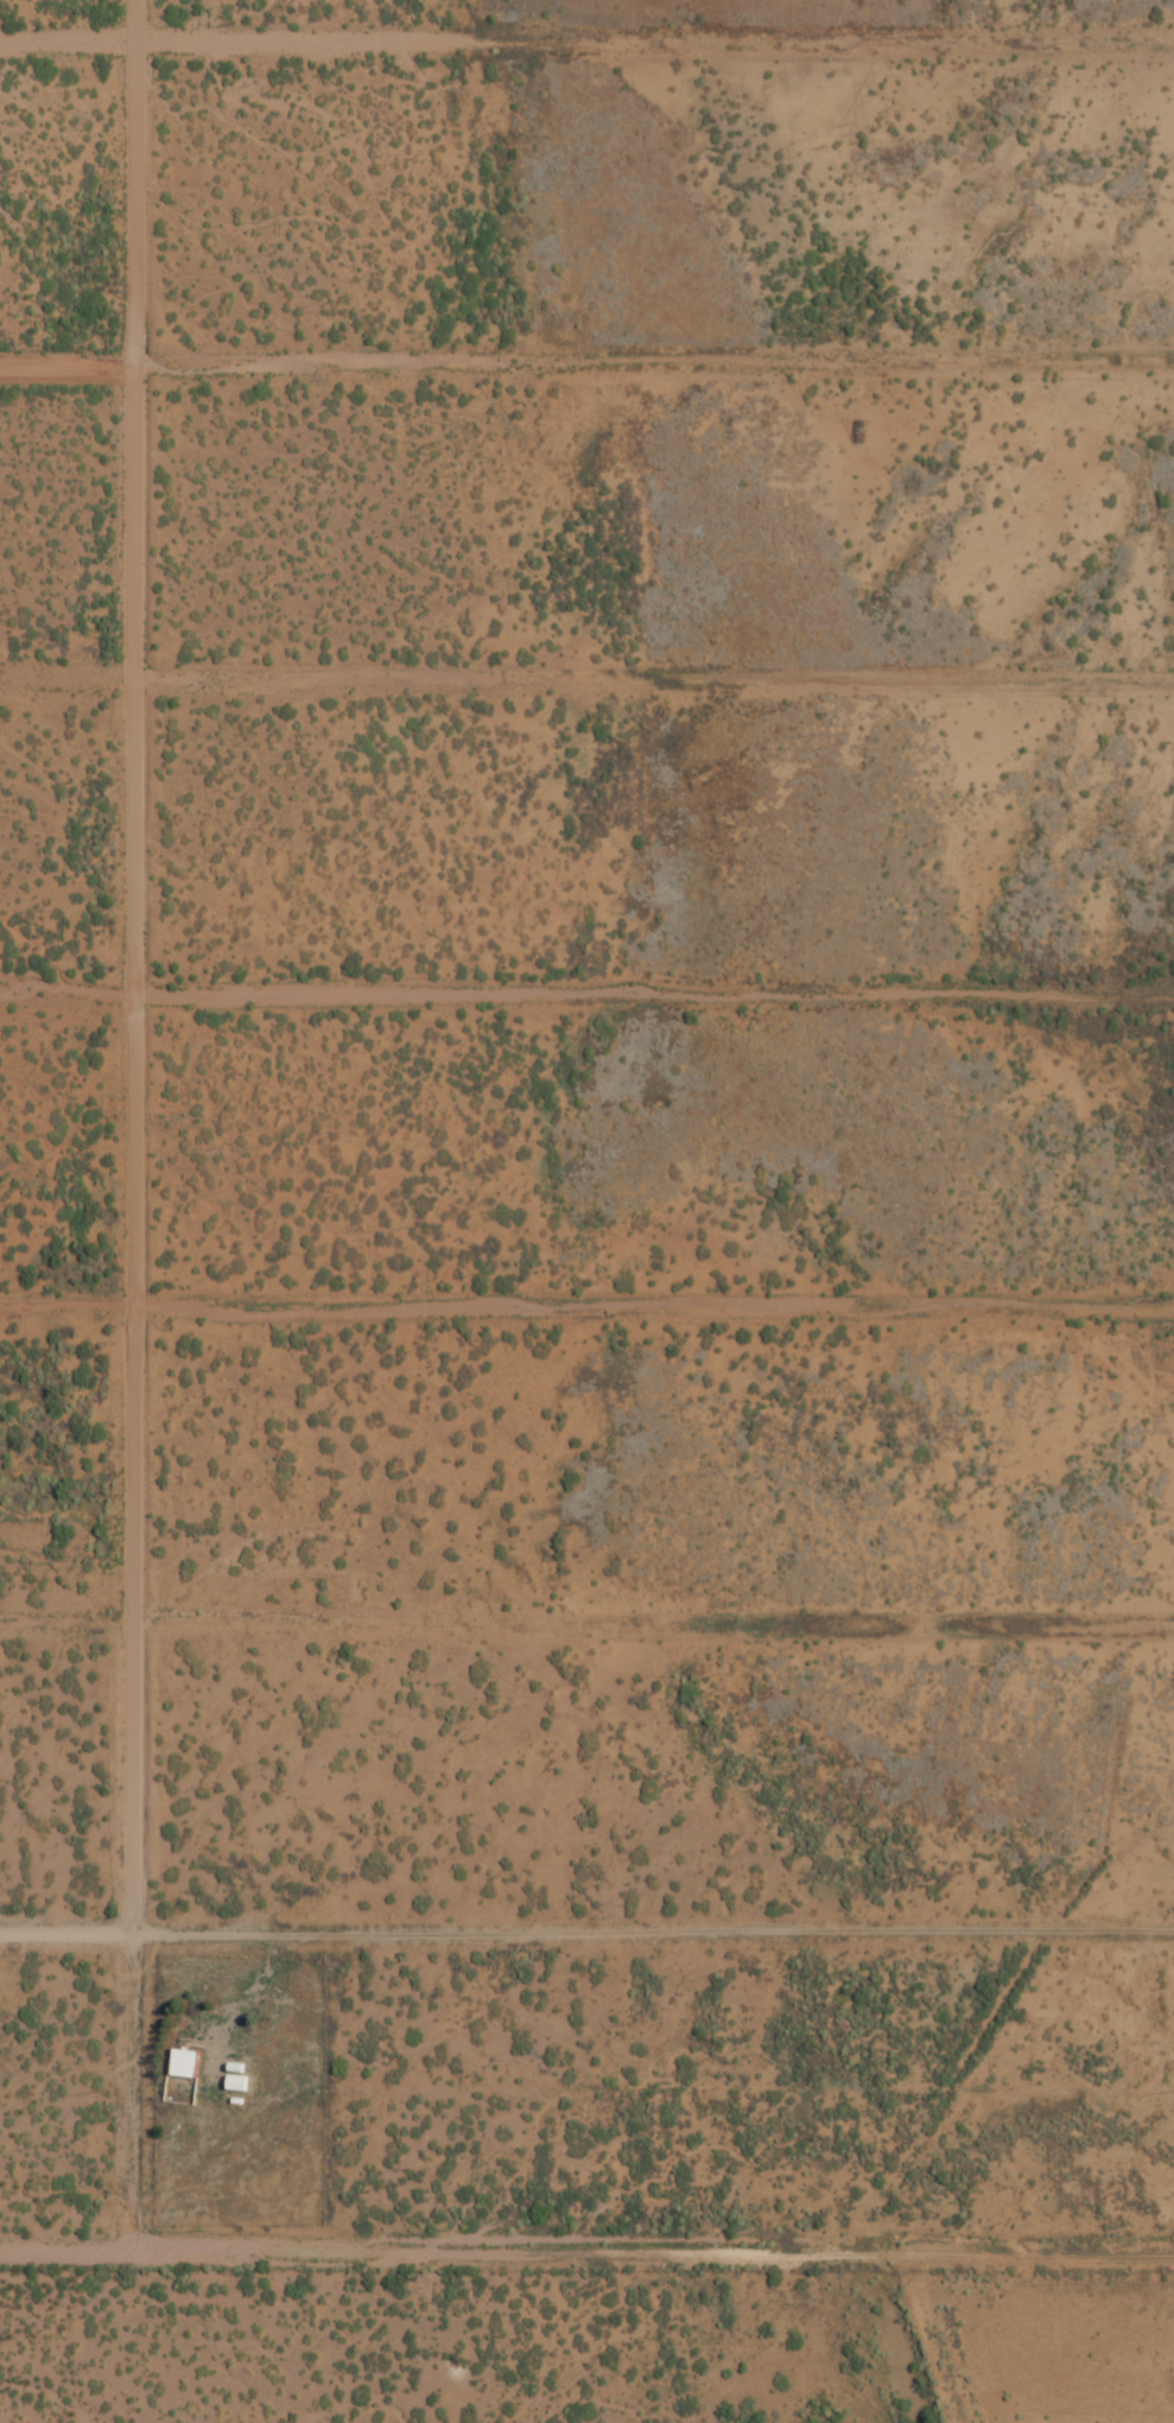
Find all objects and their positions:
road: (586, 37)
road: (586, 368)
road: (586, 684)
road: (586, 985)
road: (128, 1124)
road: (586, 1304)
road: (647, 1587)
road: (59, 1591)
road: (651, 1902)
road: (63, 1908)
building: (179, 2062)
road: (420, 2254)

